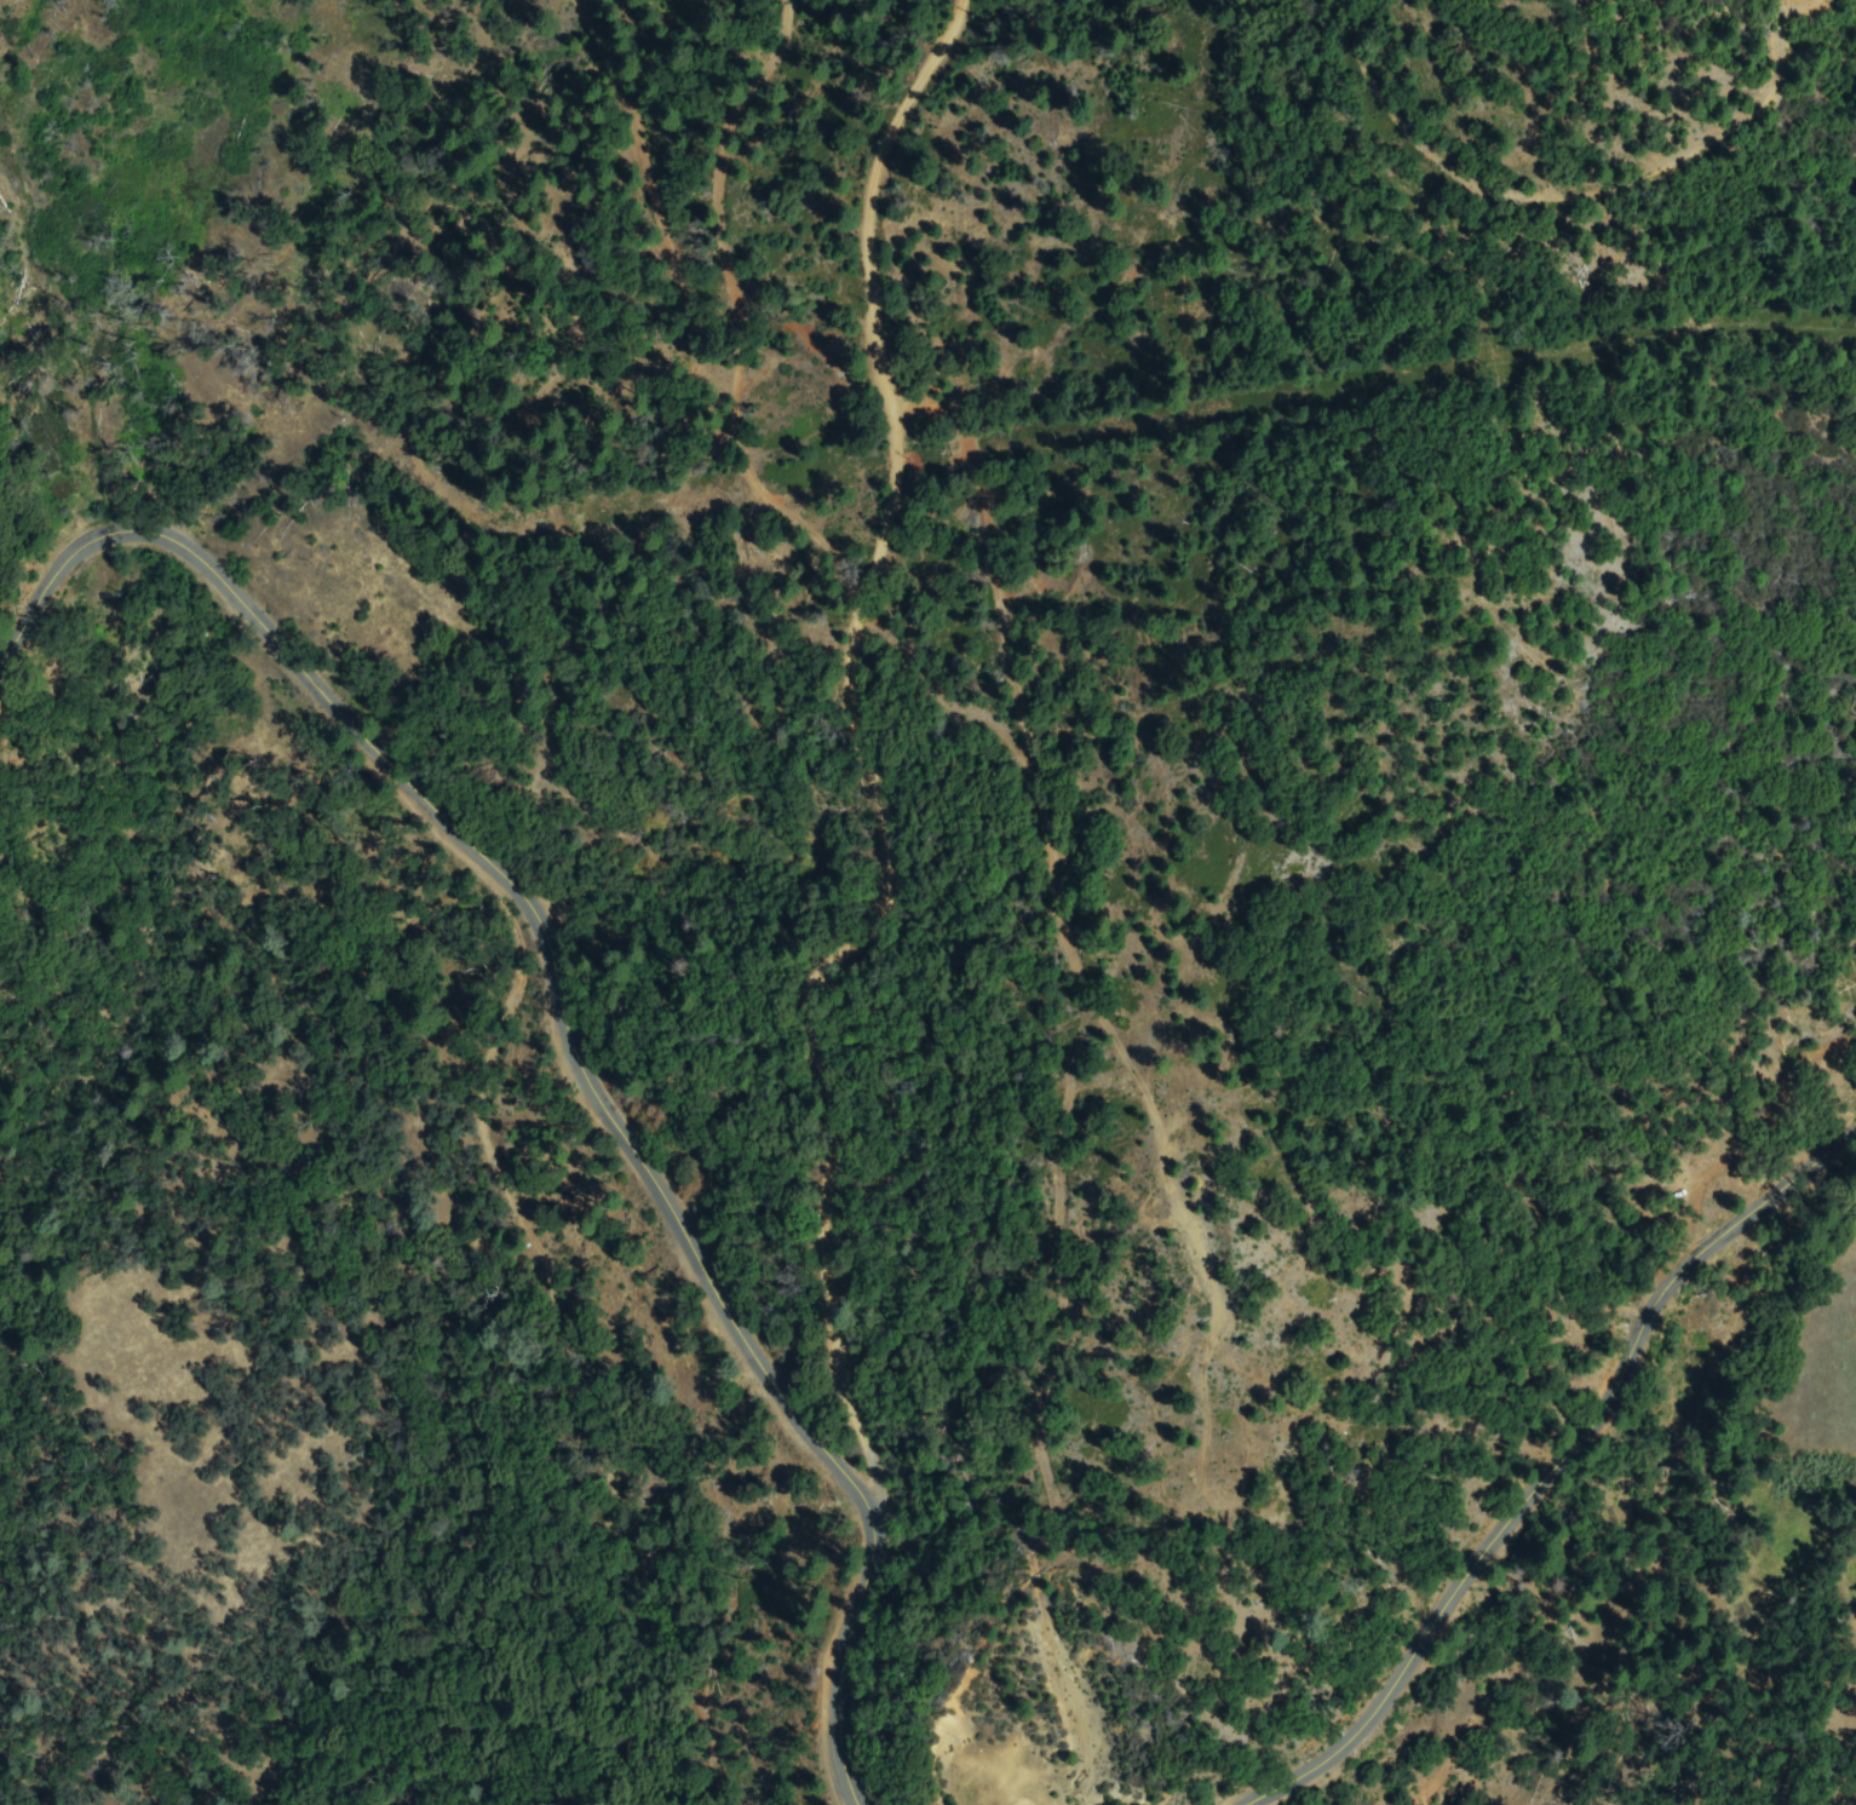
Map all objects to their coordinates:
road: (845, 781)
road: (564, 1028)
road: (1555, 1468)

